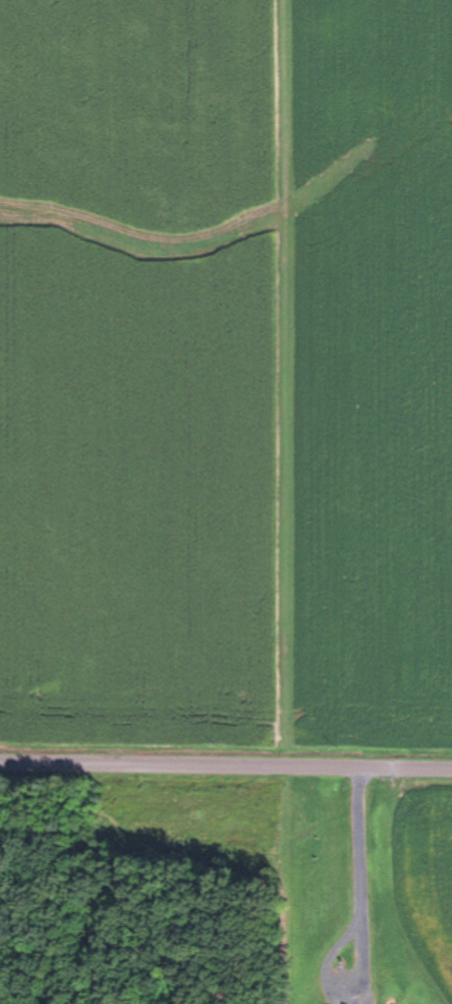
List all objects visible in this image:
road: (226, 763)
road: (356, 843)
road: (338, 979)

